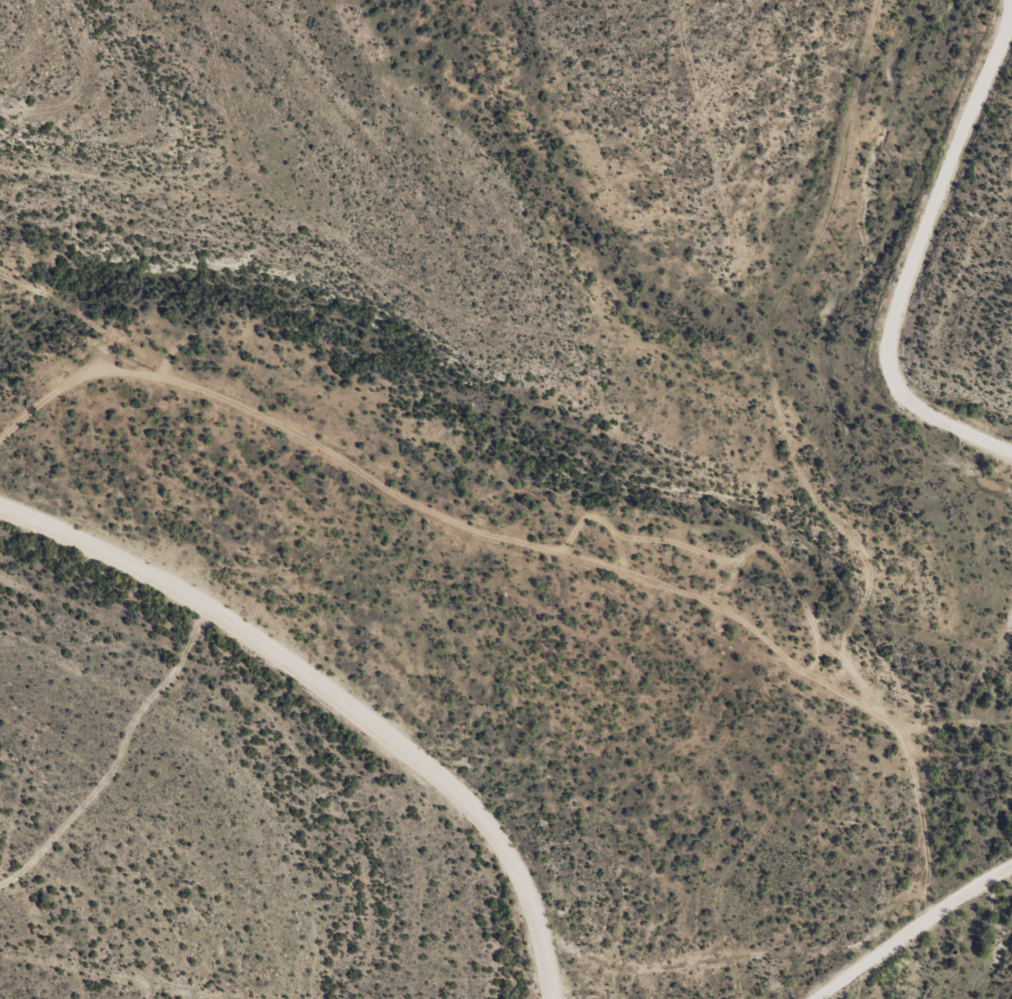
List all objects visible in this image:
road: (759, 523)
road: (334, 694)
road: (697, 980)

